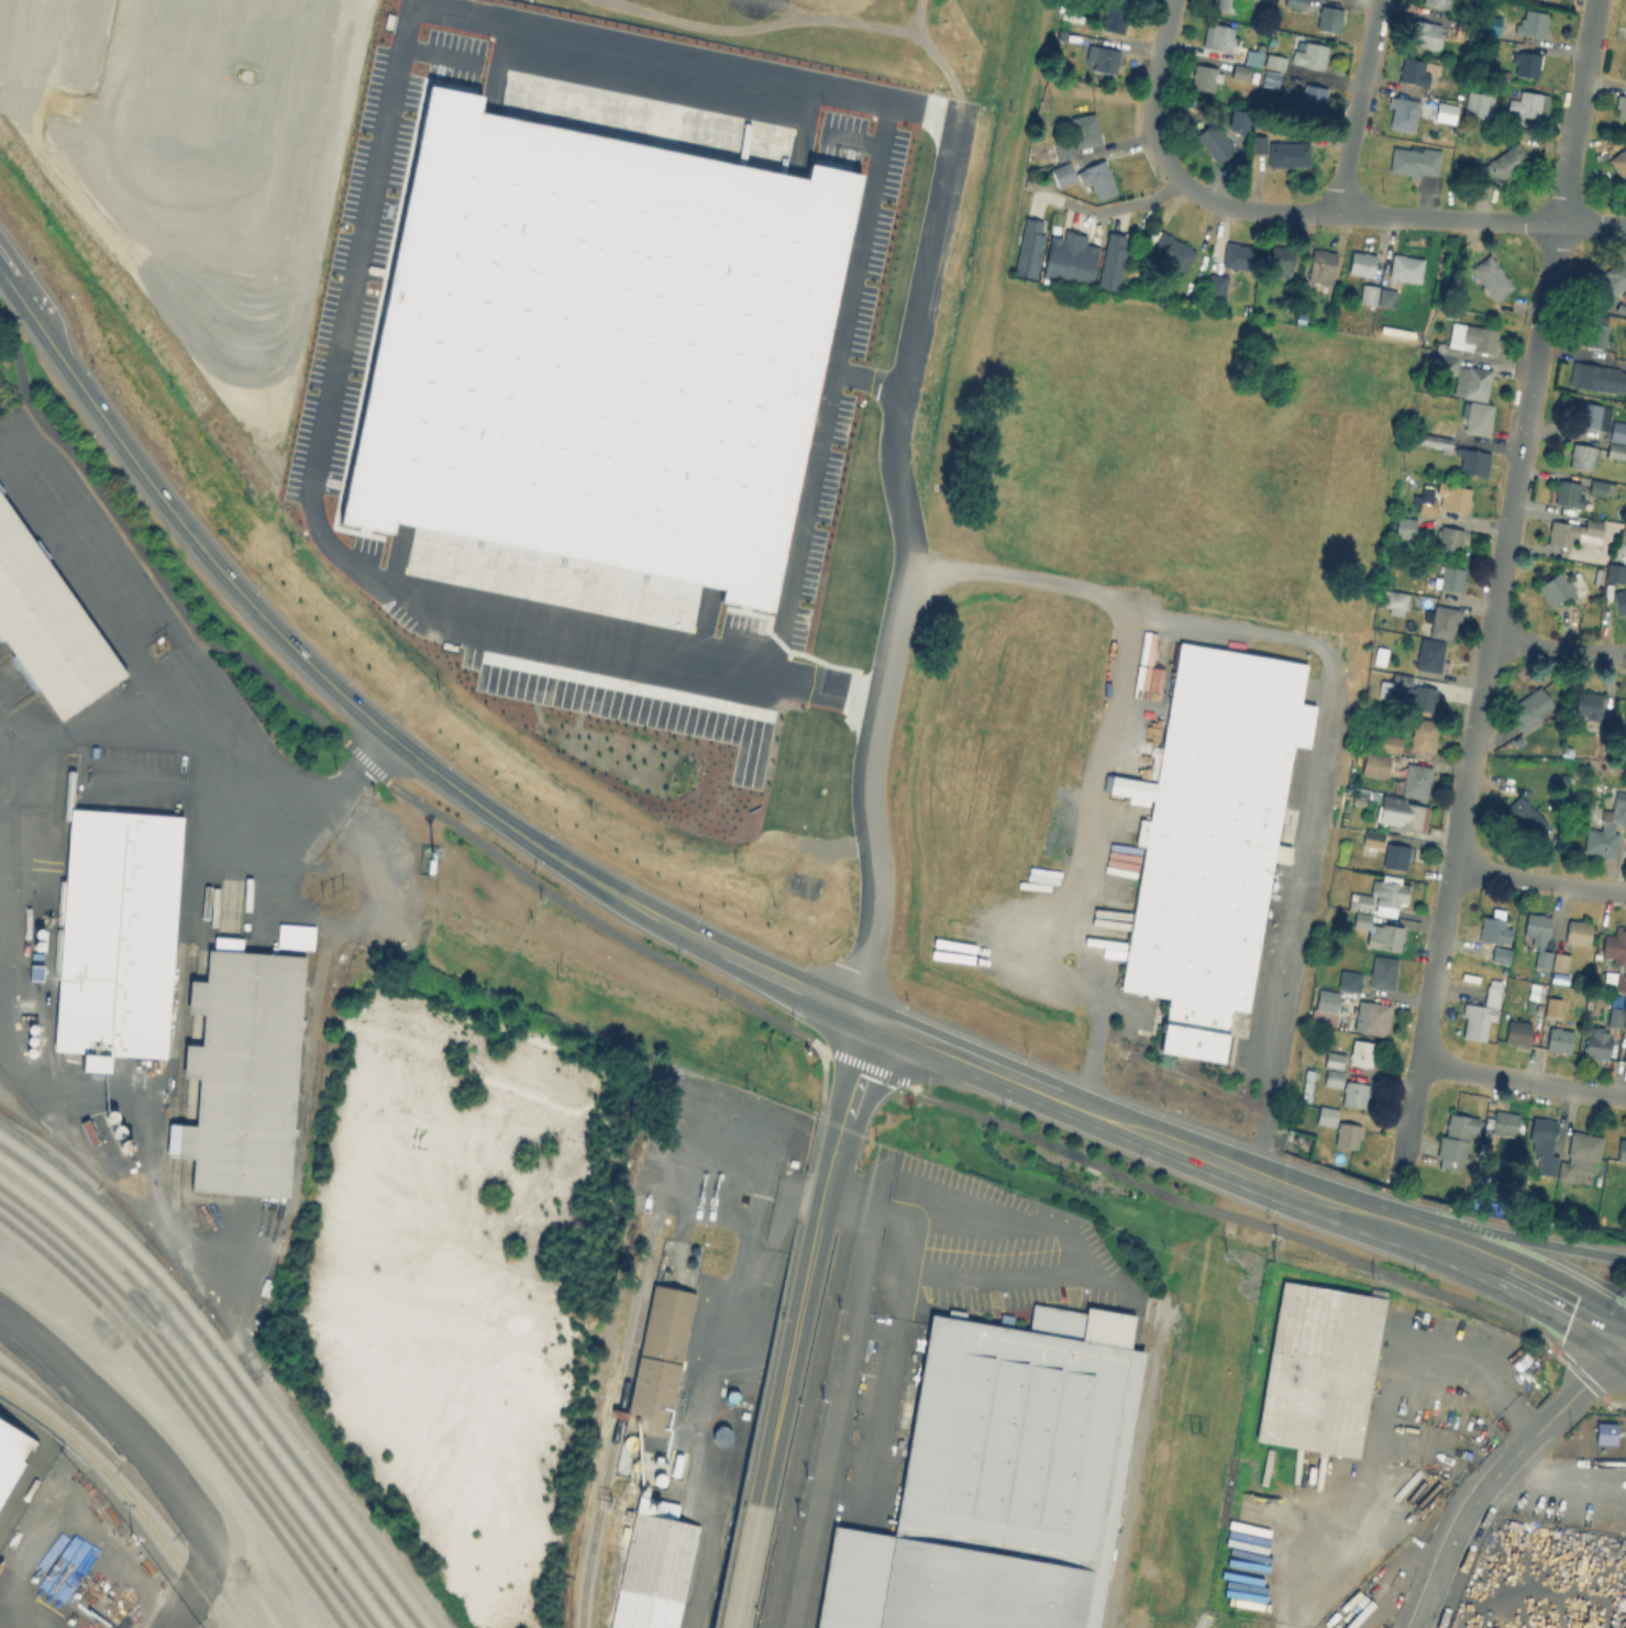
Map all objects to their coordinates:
building: (1553, 0)
building: (1269, 1)
building: (1438, 2)
building: (1294, 3)
building: (1226, 5)
road: (914, 19)
building: (1114, 20)
building: (1328, 20)
road: (786, 21)
building: (1531, 23)
building: (1423, 34)
building: (1218, 37)
building: (1308, 55)
road: (440, 56)
road: (665, 56)
building: (1253, 56)
building: (1103, 57)
road: (25, 60)
building: (1274, 62)
building: (1525, 62)
building: (1239, 71)
building: (1417, 74)
building: (1204, 76)
building: (1270, 78)
building: (1309, 98)
building: (1525, 103)
building: (1474, 104)
road: (1354, 108)
building: (1621, 108)
building: (1446, 112)
building: (1403, 114)
building: (1239, 118)
building: (1496, 118)
road: (1152, 120)
building: (197, 125)
building: (1084, 131)
road: (851, 141)
building: (1214, 143)
building: (1257, 144)
building: (1063, 149)
building: (1287, 154)
building: (1414, 160)
building: (1619, 163)
building: (1506, 164)
building: (1458, 173)
building: (1062, 174)
building: (1097, 178)
road: (1113, 208)
road: (1427, 220)
road: (312, 241)
building: (1028, 246)
building: (1172, 248)
road: (106, 254)
building: (1057, 254)
building: (1238, 254)
building: (1281, 257)
building: (1080, 259)
building: (1111, 261)
building: (1361, 262)
building: (1402, 267)
building: (1321, 268)
building: (1491, 276)
building: (1611, 279)
building: (1214, 285)
road: (209, 290)
building: (1287, 290)
building: (1368, 294)
building: (1386, 296)
building: (1450, 311)
building: (1395, 329)
building: (1593, 332)
building: (1468, 337)
road: (225, 345)
building: (598, 350)
building: (1460, 374)
building: (1596, 376)
road: (870, 380)
road: (833, 388)
building: (1469, 416)
building: (1600, 419)
building: (1436, 440)
building: (1616, 450)
building: (1581, 456)
building: (1473, 462)
building: (1600, 486)
building: (1568, 494)
building: (1444, 497)
building: (1405, 525)
building: (1571, 530)
building: (1450, 538)
building: (1615, 572)
building: (1596, 574)
building: (1450, 578)
road: (1498, 586)
building: (1556, 587)
building: (1619, 599)
building: (1394, 600)
building: (1442, 619)
road: (1154, 620)
building: (47, 625)
road: (568, 628)
road: (1557, 650)
road: (188, 653)
building: (1429, 654)
building: (1380, 655)
building: (1415, 690)
building: (1588, 704)
building: (1530, 706)
building: (1625, 713)
road: (372, 717)
road: (101, 723)
building: (1425, 732)
building: (1391, 742)
road: (347, 745)
building: (1375, 763)
building: (1416, 779)
road: (8, 797)
building: (1401, 812)
building: (1524, 816)
building: (1606, 828)
building: (1351, 834)
building: (1625, 834)
building: (1371, 837)
building: (1210, 840)
building: (1396, 855)
road: (1086, 863)
road: (1538, 882)
building: (1380, 896)
building: (1361, 920)
building: (1494, 927)
building: (1577, 932)
building: (1385, 935)
building: (1537, 937)
building: (117, 938)
building: (1500, 954)
building: (1615, 956)
building: (1560, 962)
building: (1382, 972)
building: (1349, 979)
building: (1326, 1004)
building: (1552, 1006)
building: (1480, 1012)
building: (1615, 1016)
building: (1373, 1017)
building: (1624, 1021)
building: (1517, 1032)
building: (1558, 1039)
railway: (51, 1040)
building: (1596, 1043)
building: (1361, 1052)
building: (1625, 1054)
building: (1335, 1059)
building: (243, 1075)
building: (1332, 1077)
road: (1520, 1082)
railway: (16, 1094)
building: (1354, 1094)
building: (1327, 1116)
railway: (35, 1117)
building: (1504, 1123)
road: (1133, 1132)
building: (1347, 1134)
building: (1454, 1141)
building: (1544, 1144)
railway: (64, 1150)
building: (1621, 1150)
building: (1579, 1154)
railway: (172, 1164)
road: (819, 1203)
road: (1212, 1210)
road: (952, 1232)
road: (1514, 1239)
road: (807, 1264)
road: (1515, 1284)
railway: (237, 1356)
building: (659, 1362)
railway: (228, 1370)
building: (1319, 1370)
road: (1470, 1374)
railway: (214, 1383)
railway: (203, 1394)
railway: (195, 1403)
railway: (184, 1413)
railway: (59, 1414)
railway: (98, 1428)
railway: (611, 1454)
building: (11, 1457)
road: (1494, 1472)
railway: (131, 1480)
building: (1002, 1482)
railway: (125, 1495)
road: (746, 1569)
building: (654, 1574)

